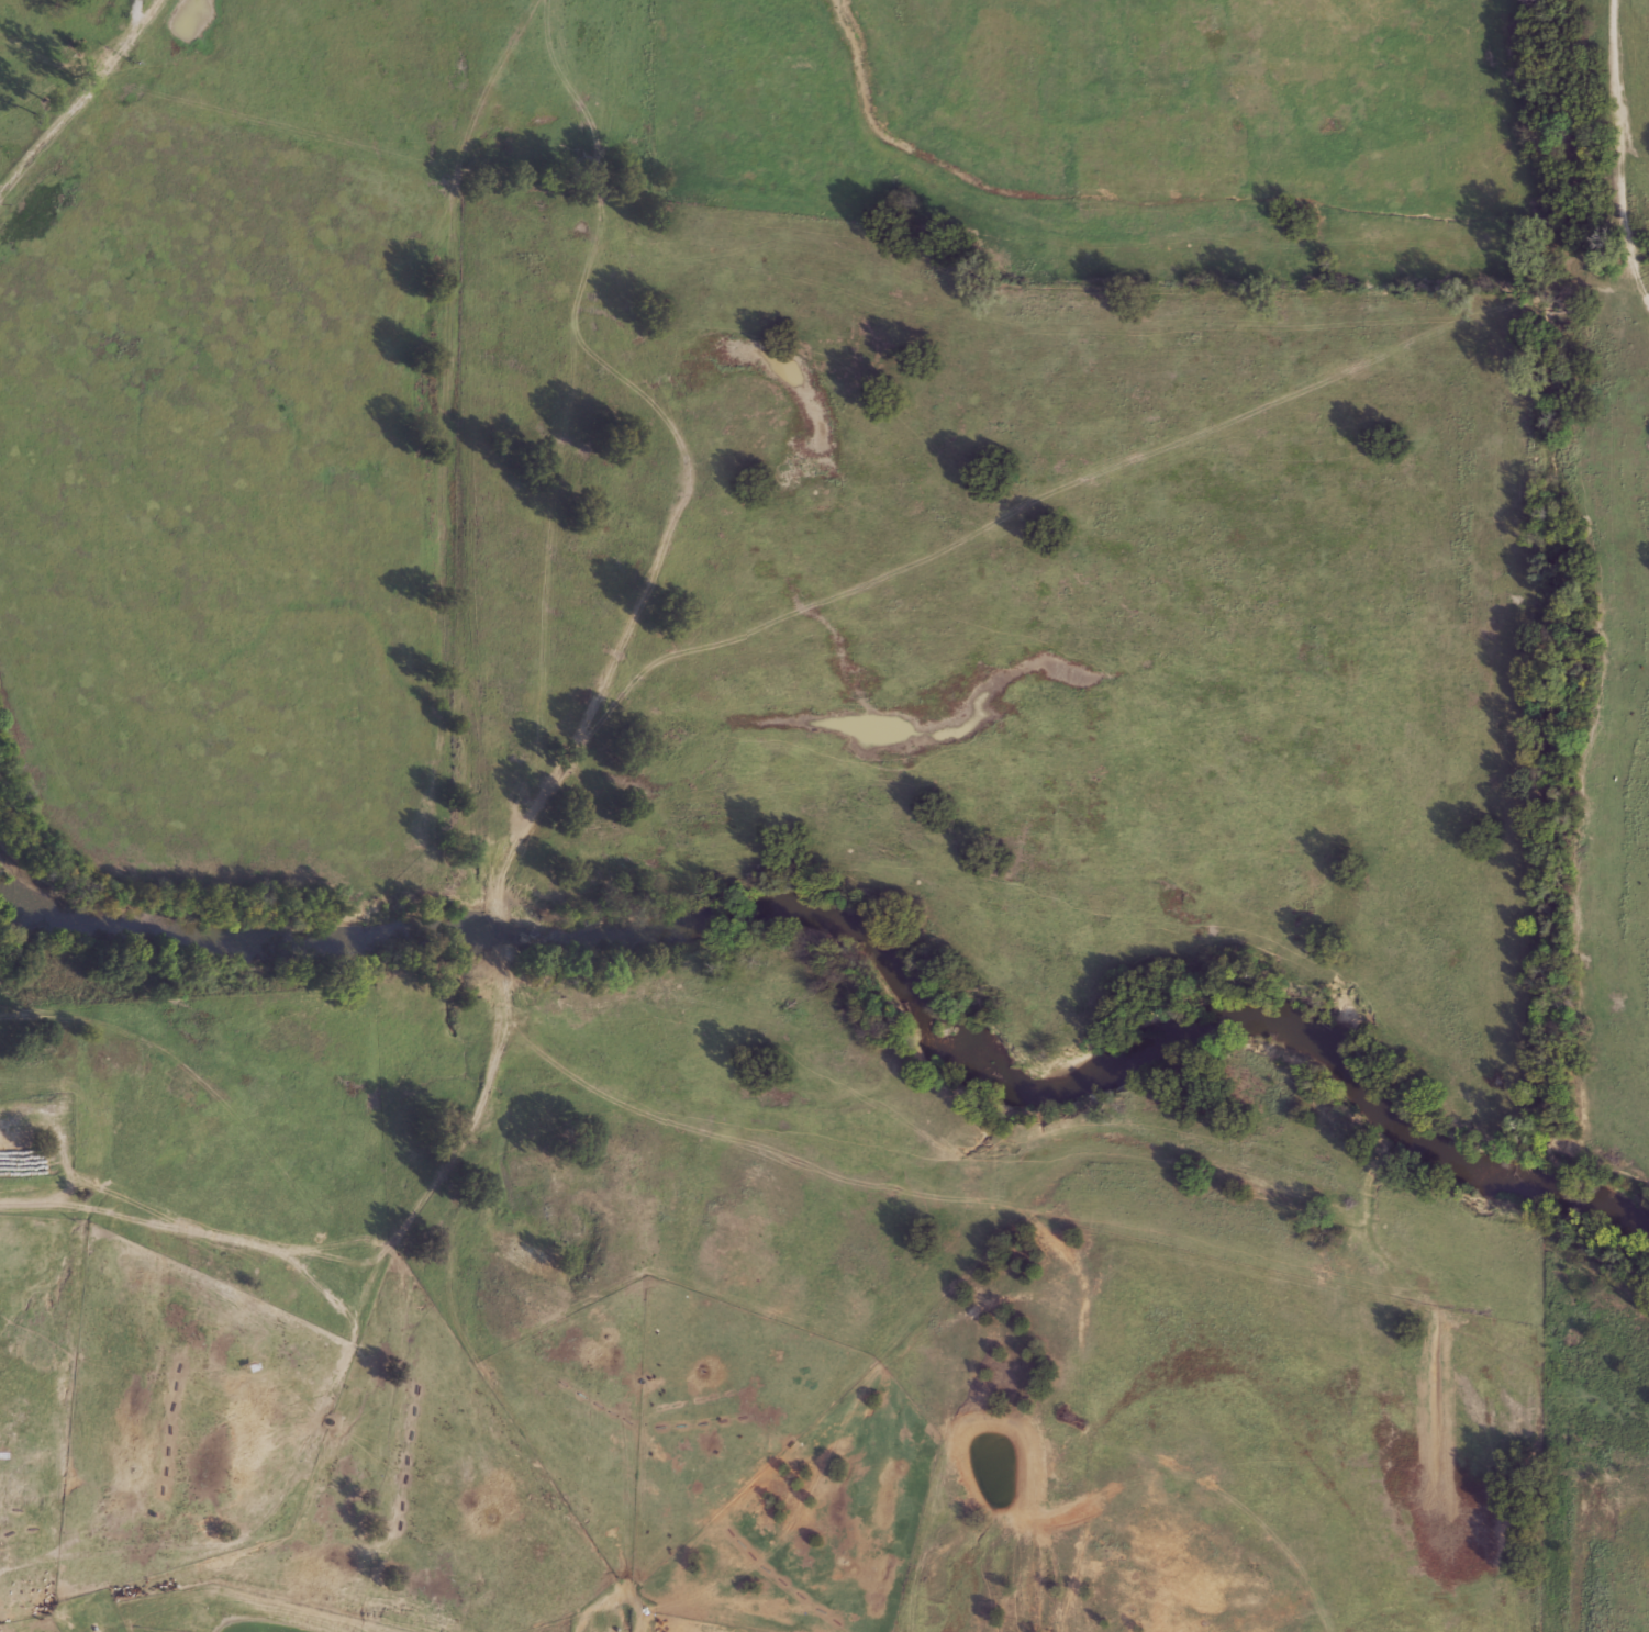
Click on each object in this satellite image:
road: (88, 108)
road: (1578, 166)

